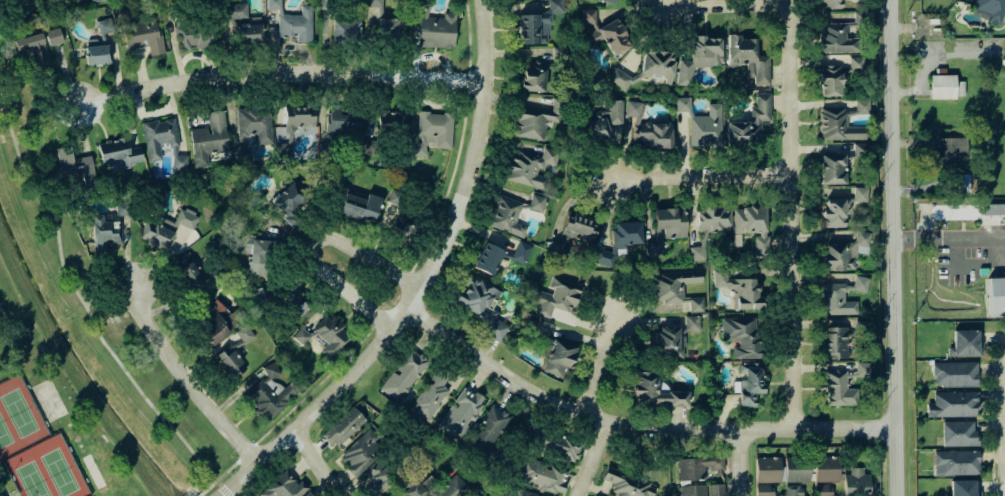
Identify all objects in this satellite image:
building: (94, 0)
building: (42, 1)
building: (610, 1)
road: (724, 2)
building: (326, 3)
building: (829, 3)
building: (375, 5)
building: (989, 9)
building: (293, 21)
building: (931, 21)
building: (241, 24)
building: (537, 24)
building: (387, 27)
road: (910, 27)
building: (401, 28)
building: (434, 28)
building: (345, 31)
building: (606, 31)
building: (140, 32)
building: (192, 35)
building: (840, 35)
building: (53, 36)
building: (101, 43)
building: (32, 51)
building: (559, 53)
building: (699, 57)
building: (1003, 58)
building: (747, 59)
building: (855, 63)
building: (656, 65)
building: (1004, 65)
road: (280, 71)
building: (532, 75)
building: (619, 78)
building: (830, 79)
building: (940, 85)
road: (909, 91)
building: (682, 104)
building: (859, 107)
building: (536, 119)
building: (392, 120)
building: (606, 121)
building: (749, 123)
building: (344, 124)
building: (839, 125)
building: (252, 127)
building: (705, 127)
building: (648, 128)
building: (288, 129)
building: (429, 131)
building: (208, 138)
road: (459, 140)
building: (162, 141)
building: (948, 150)
building: (118, 152)
building: (840, 163)
building: (75, 167)
building: (530, 167)
road: (706, 175)
building: (959, 182)
building: (396, 197)
building: (289, 202)
building: (359, 206)
building: (920, 206)
building: (841, 207)
building: (991, 209)
building: (512, 213)
road: (795, 213)
building: (751, 224)
building: (405, 226)
building: (166, 227)
building: (108, 228)
building: (665, 228)
building: (574, 231)
road: (980, 237)
road: (925, 238)
building: (620, 239)
road: (311, 247)
road: (895, 248)
building: (844, 251)
building: (521, 252)
building: (258, 254)
building: (487, 258)
road: (969, 263)
building: (187, 270)
road: (428, 283)
building: (675, 288)
building: (737, 288)
building: (994, 295)
building: (841, 296)
building: (295, 301)
road: (81, 305)
building: (481, 305)
building: (215, 323)
building: (691, 323)
building: (539, 327)
building: (325, 335)
building: (741, 335)
park: (96, 336)
building: (668, 341)
building: (836, 342)
building: (964, 343)
building: (234, 353)
building: (557, 356)
road: (605, 365)
building: (952, 373)
building: (403, 375)
road: (193, 377)
building: (749, 383)
building: (843, 385)
street lamp: (996, 389)
building: (655, 391)
building: (269, 393)
road: (304, 394)
building: (430, 394)
park: (46, 399)
building: (951, 403)
building: (460, 413)
park: (17, 415)
road: (992, 417)
park: (17, 418)
road: (638, 424)
building: (343, 426)
park: (47, 427)
building: (489, 429)
building: (957, 433)
park: (4, 437)
building: (555, 444)
building: (360, 452)
road: (596, 458)
road: (322, 461)
road: (747, 461)
building: (953, 461)
building: (698, 467)
building: (825, 468)
road: (227, 469)
building: (767, 469)
building: (796, 469)
park: (43, 470)
park: (56, 473)
building: (377, 475)
building: (541, 475)
park: (28, 481)
building: (856, 482)
building: (415, 483)
building: (627, 484)
building: (283, 486)
building: (452, 487)
building: (960, 488)
building: (716, 489)
building: (692, 490)
building: (764, 490)
building: (793, 490)
building: (822, 490)
road: (1, 492)
building: (522, 492)
park: (247, 493)
road: (14, 494)
road: (229, 494)
building: (306, 494)
building: (475, 495)

